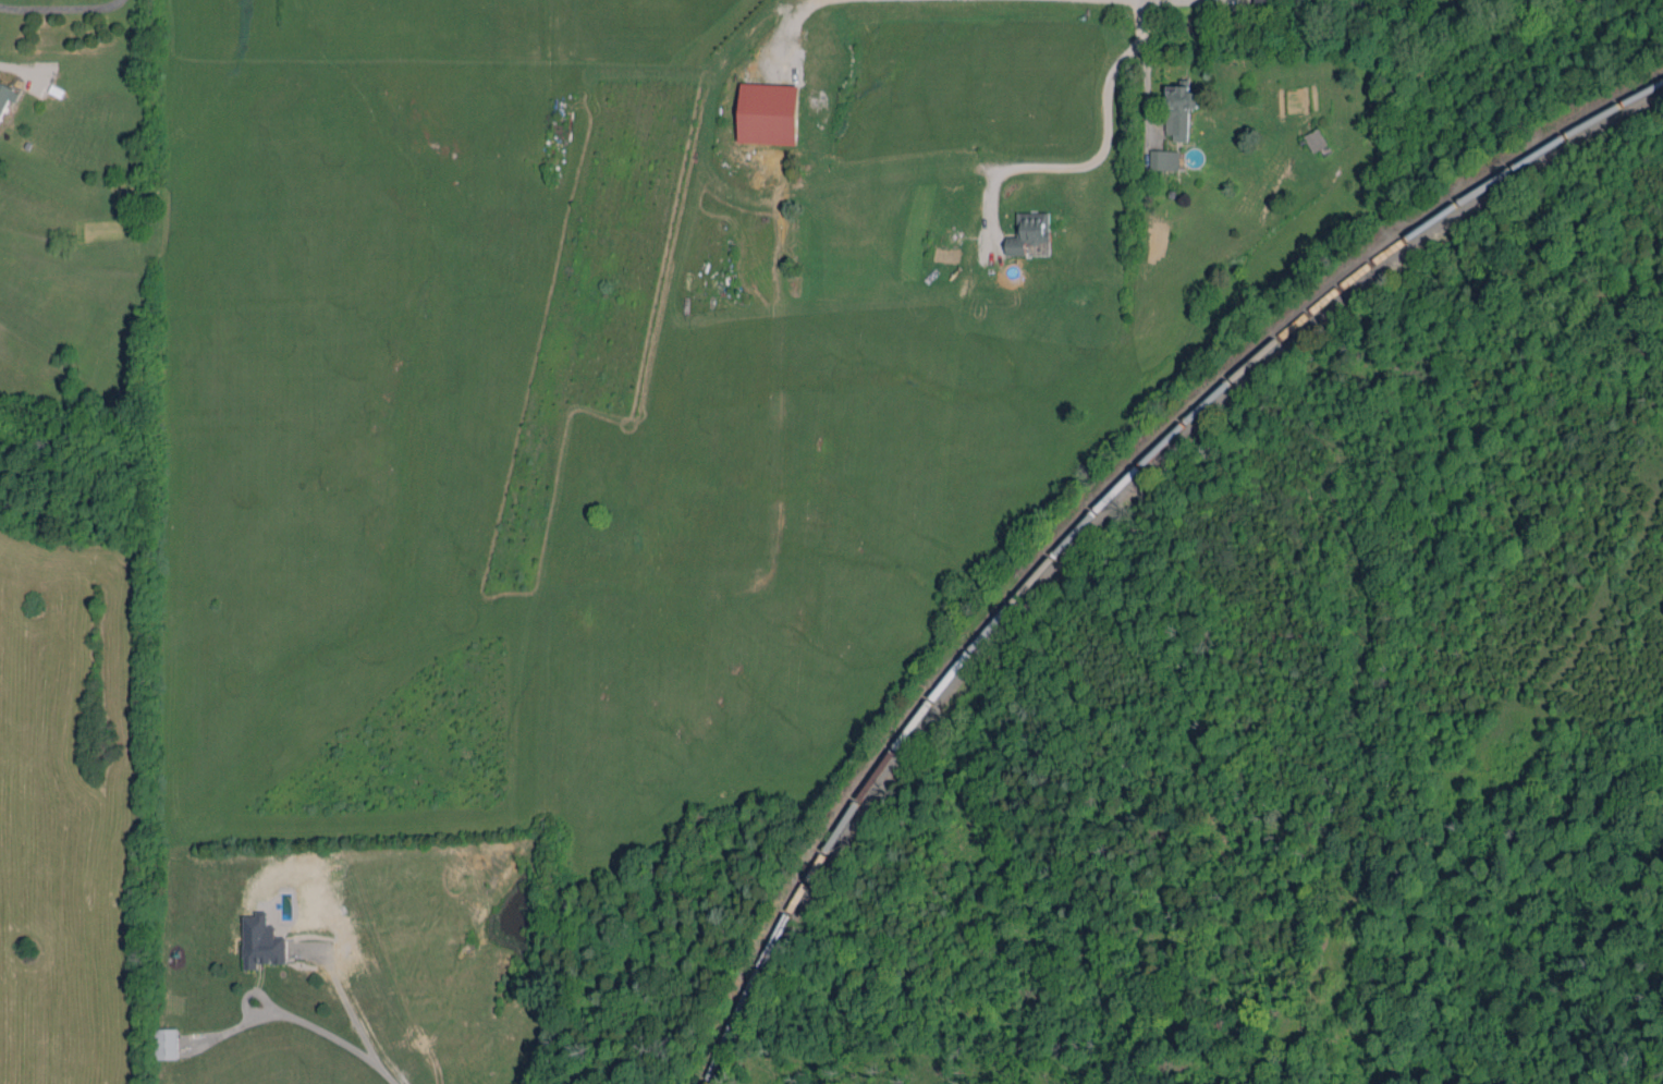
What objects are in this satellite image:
building: (1267, 1)
road: (792, 35)
building: (3, 89)
building: (1179, 110)
building: (767, 113)
building: (1316, 139)
road: (1098, 155)
building: (1164, 159)
building: (1028, 231)
railway: (1100, 499)
road: (301, 1022)

